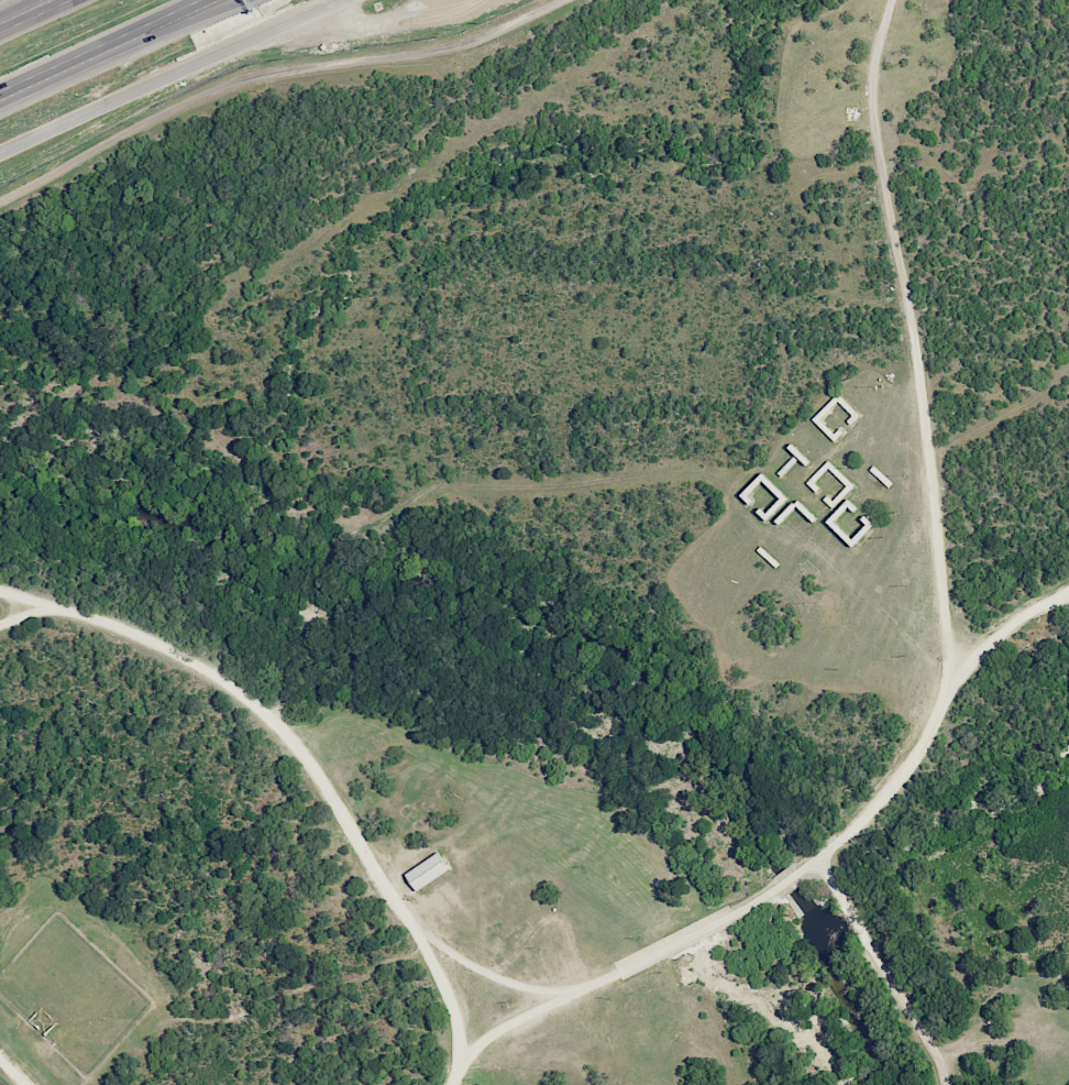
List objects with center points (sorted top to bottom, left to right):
road: (22, 12)
road: (32, 14)
road: (186, 18)
road: (194, 18)
road: (74, 67)
road: (172, 77)
road: (26, 614)
road: (1004, 634)
road: (952, 668)
road: (308, 768)
building: (427, 872)
road: (889, 969)
road: (499, 982)
road: (729, 985)
road: (10, 1074)

